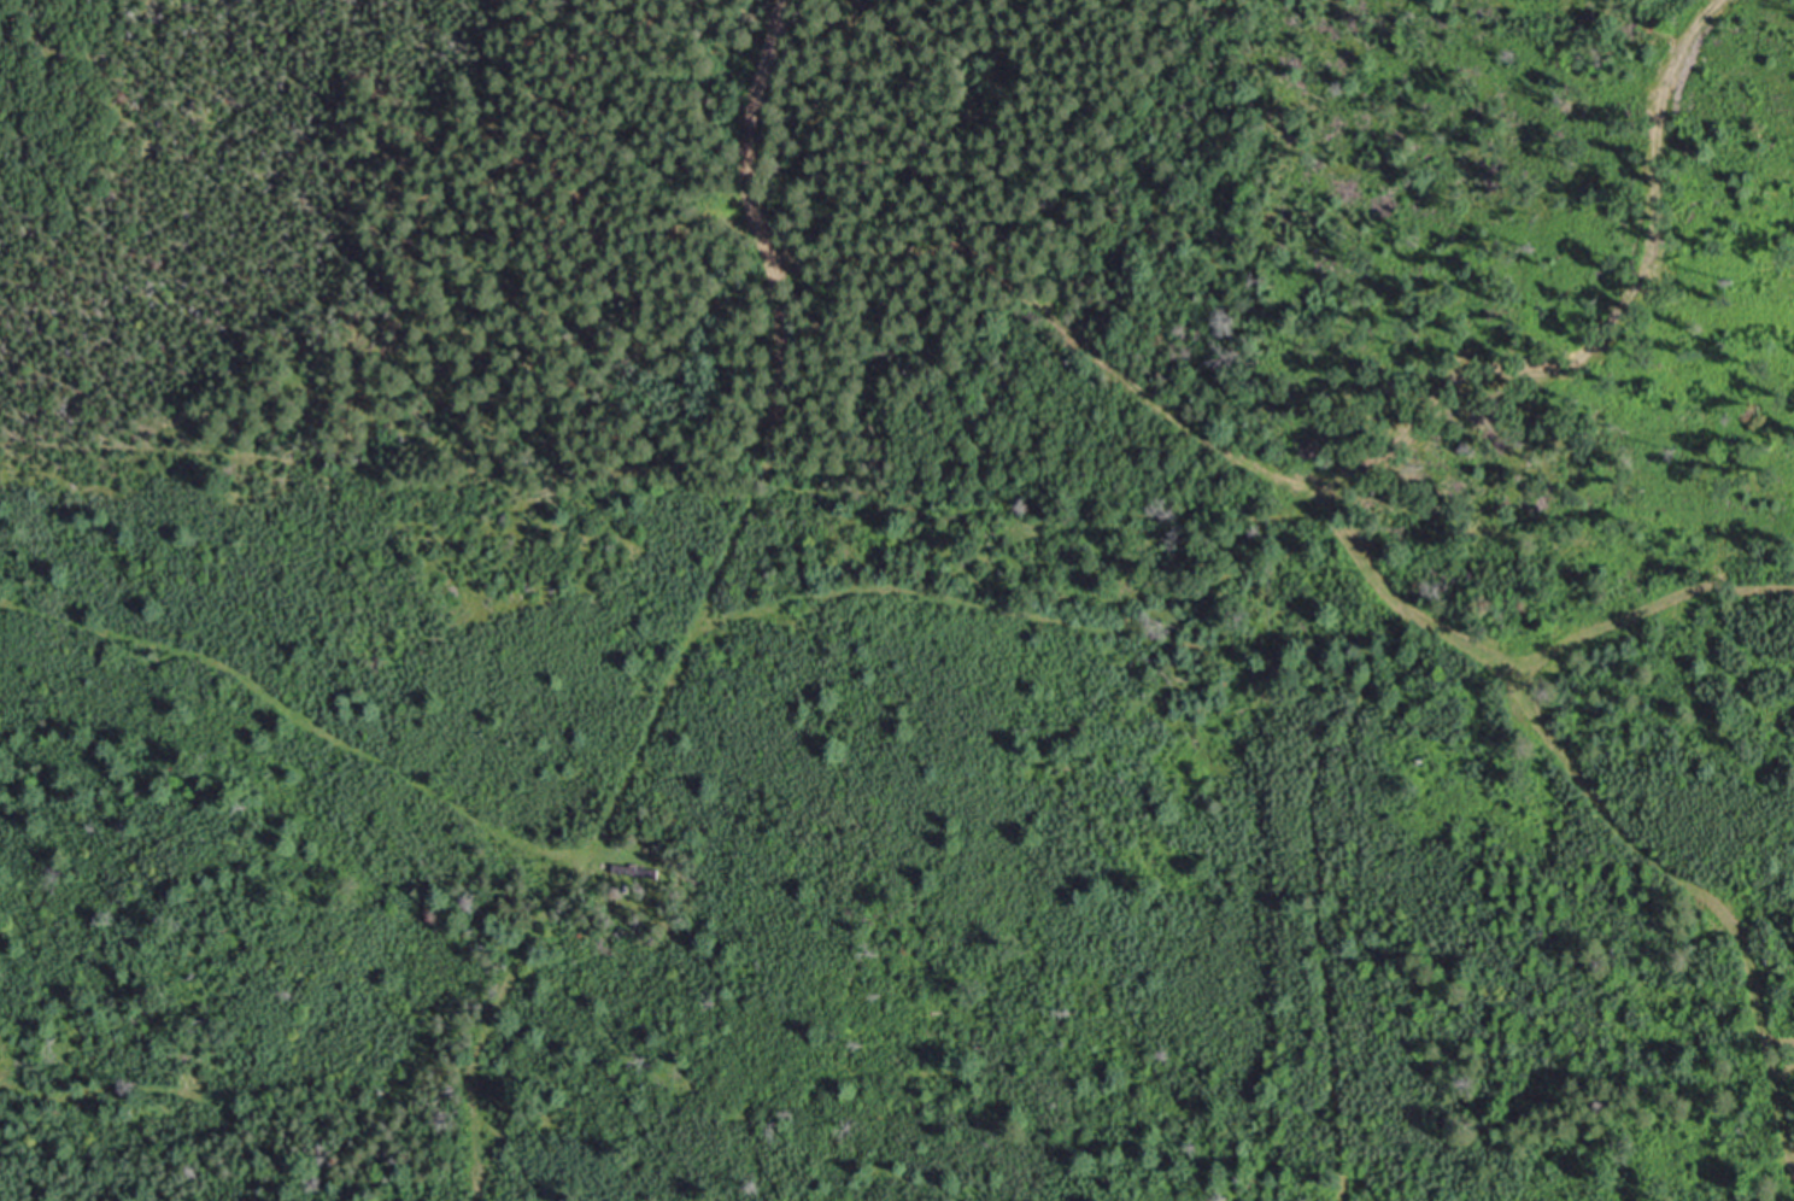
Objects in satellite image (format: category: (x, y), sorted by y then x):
road: (757, 222)

